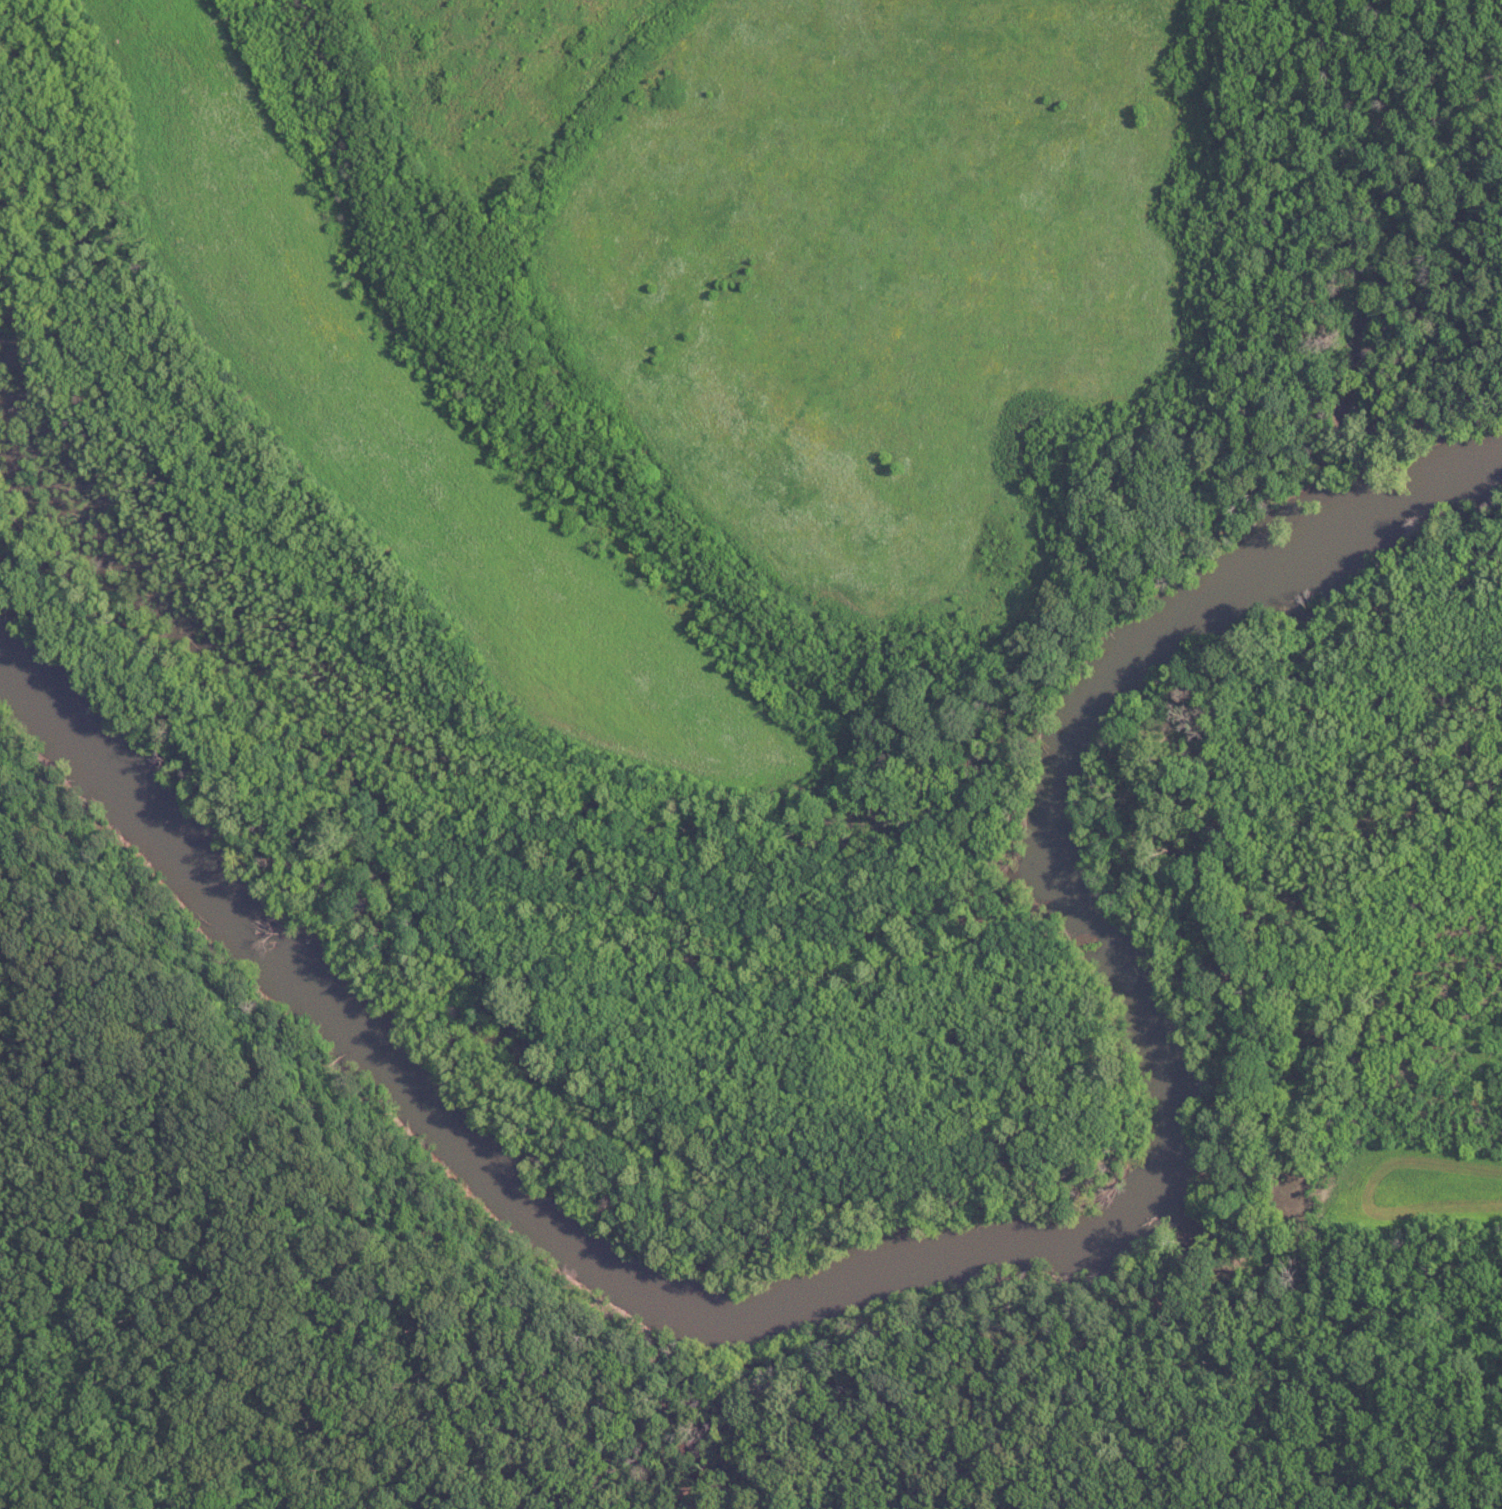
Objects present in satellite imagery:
river: (942, 1277)

